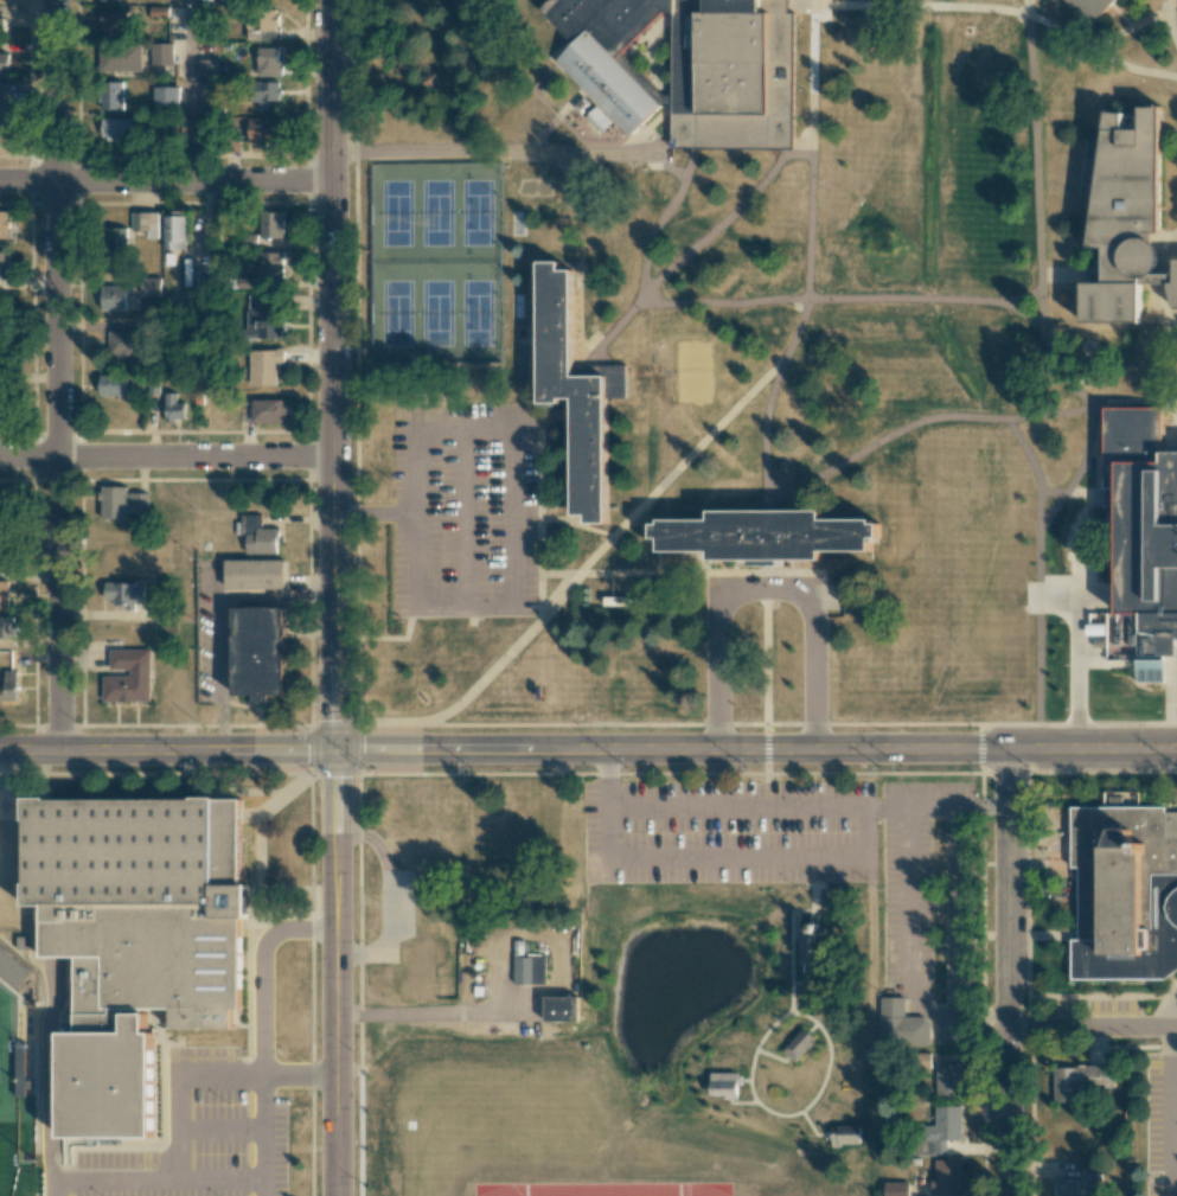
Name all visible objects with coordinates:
building: (109, 0)
road: (824, 4)
road: (1024, 8)
building: (1089, 8)
road: (1002, 11)
road: (1121, 17)
building: (262, 20)
building: (110, 21)
road: (1169, 23)
road: (1128, 30)
building: (262, 34)
building: (607, 52)
building: (161, 53)
building: (121, 57)
building: (269, 62)
building: (4, 63)
building: (206, 68)
building: (731, 75)
road: (188, 91)
building: (268, 94)
building: (111, 95)
building: (166, 97)
building: (2, 114)
building: (599, 119)
building: (117, 129)
building: (263, 129)
road: (811, 149)
road: (491, 153)
road: (164, 183)
building: (1126, 218)
road: (724, 220)
road: (655, 222)
building: (146, 223)
building: (4, 224)
building: (270, 225)
building: (247, 239)
road: (1038, 262)
building: (270, 264)
building: (4, 266)
park: (433, 266)
road: (1073, 271)
building: (196, 276)
road: (1163, 281)
building: (151, 286)
building: (1173, 292)
building: (114, 298)
road: (807, 299)
road: (1023, 313)
building: (262, 318)
building: (1, 337)
building: (123, 347)
road: (1168, 364)
building: (264, 366)
building: (1, 371)
road: (331, 375)
road: (62, 376)
building: (115, 385)
building: (578, 396)
road: (768, 404)
building: (173, 408)
building: (269, 410)
road: (919, 421)
road: (461, 430)
traffic signals: (63, 460)
road: (166, 460)
road: (1034, 466)
building: (121, 501)
road: (535, 503)
parking lot: (462, 512)
road: (373, 516)
road: (465, 517)
road: (510, 517)
road: (412, 518)
road: (574, 524)
building: (1145, 525)
building: (258, 537)
building: (769, 539)
road: (603, 544)
building: (2, 550)
building: (115, 562)
building: (255, 574)
road: (690, 574)
road: (765, 587)
building: (4, 594)
building: (123, 594)
road: (1038, 595)
road: (462, 605)
building: (7, 626)
road: (1079, 639)
building: (258, 652)
road: (765, 658)
building: (127, 677)
building: (8, 686)
road: (314, 703)
road: (390, 724)
road: (699, 724)
road: (226, 727)
road: (360, 727)
road: (338, 729)
road: (358, 749)
road: (315, 750)
traffic signals: (335, 750)
road: (526, 750)
road: (947, 750)
road: (167, 752)
road: (339, 770)
road: (159, 773)
road: (608, 778)
road: (766, 778)
road: (313, 788)
road: (1, 795)
road: (783, 806)
road: (983, 807)
building: (134, 851)
road: (735, 858)
parking lot: (815, 862)
building: (1124, 894)
road: (392, 902)
road: (792, 922)
building: (814, 944)
building: (153, 962)
road: (335, 973)
road: (1005, 973)
road: (262, 974)
building: (529, 974)
building: (557, 1013)
road: (429, 1017)
road: (1175, 1017)
building: (901, 1024)
road: (947, 1024)
road: (1090, 1026)
park: (740, 1031)
building: (799, 1043)
road: (773, 1055)
building: (20, 1070)
road: (301, 1079)
park: (15, 1080)
building: (948, 1080)
building: (1080, 1081)
building: (108, 1082)
building: (724, 1082)
road: (179, 1085)
road: (743, 1101)
road: (1173, 1111)
park: (14, 1113)
road: (787, 1114)
parking lot: (1162, 1123)
road: (811, 1125)
building: (940, 1130)
road: (223, 1131)
building: (845, 1134)
parking lot: (194, 1136)
road: (267, 1138)
building: (947, 1177)
road: (162, 1181)
building: (1064, 1187)
road: (57, 1188)
building: (895, 1189)
road: (1175, 1190)

